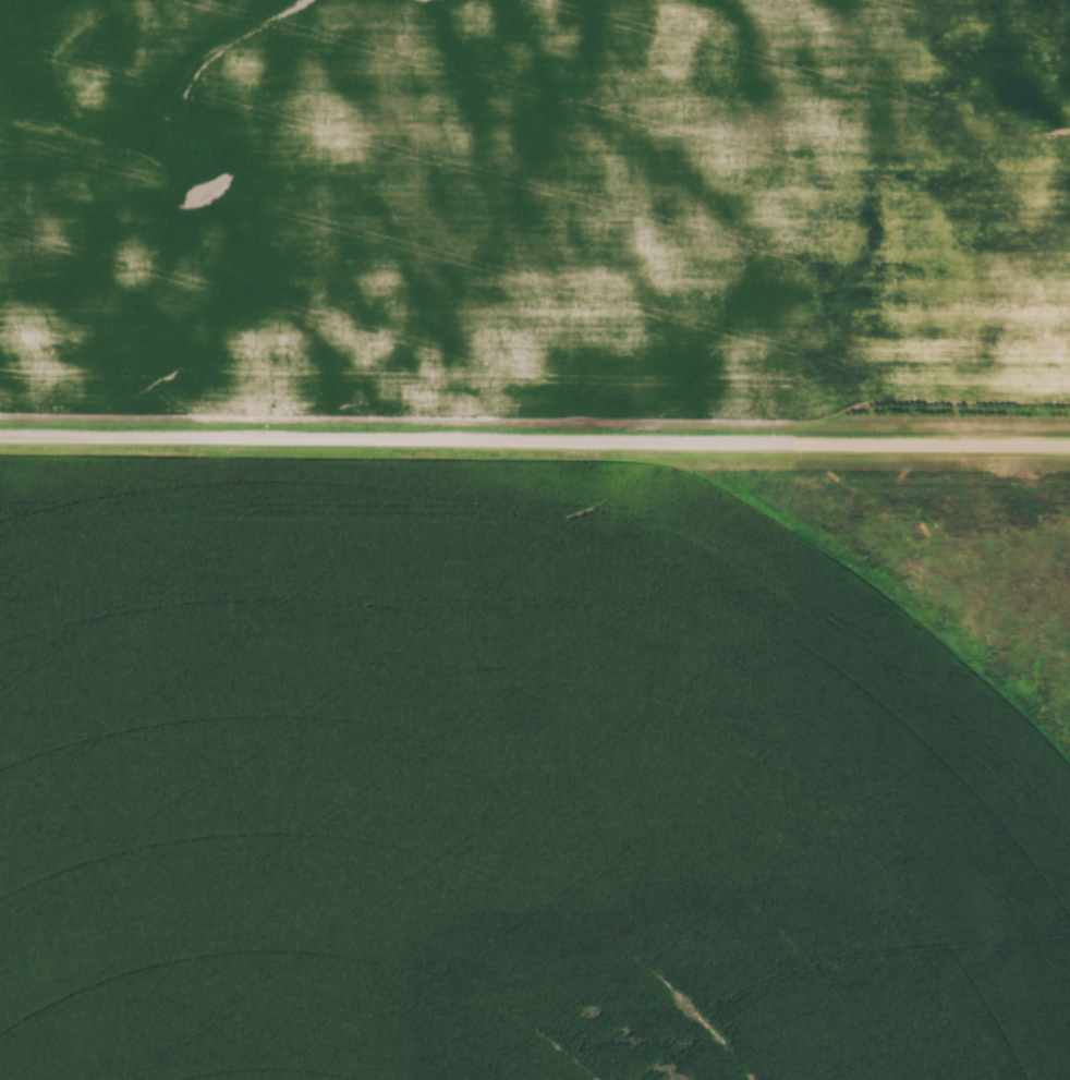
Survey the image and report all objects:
road: (535, 452)

